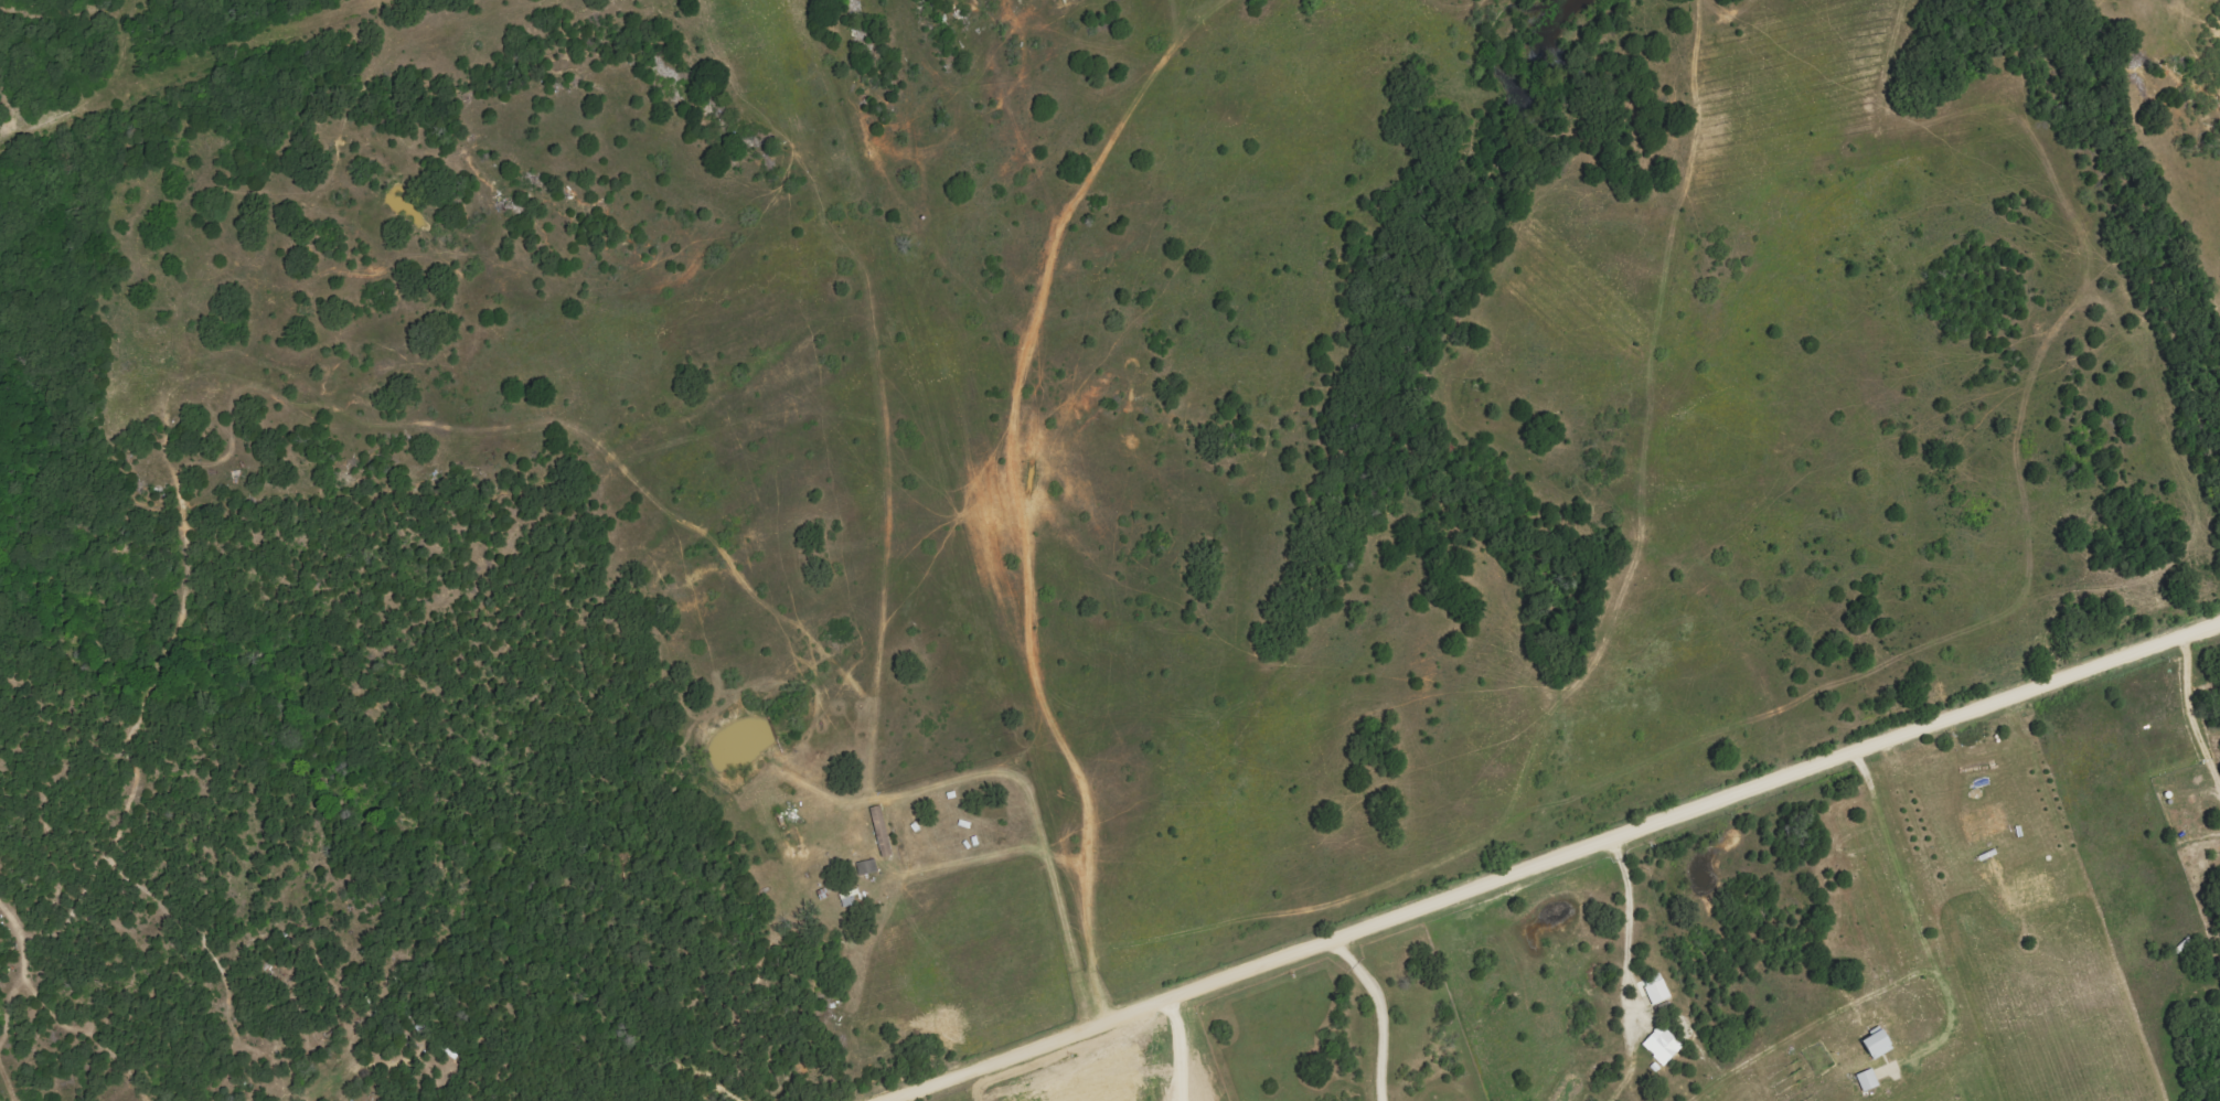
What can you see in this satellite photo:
road: (939, 421)
road: (2190, 715)
road: (1552, 852)
building: (868, 867)
road: (1910, 909)
road: (1627, 931)
building: (1655, 988)
road: (1379, 1008)
building: (1879, 1044)
building: (1663, 1045)
road: (1181, 1047)
building: (1869, 1080)

